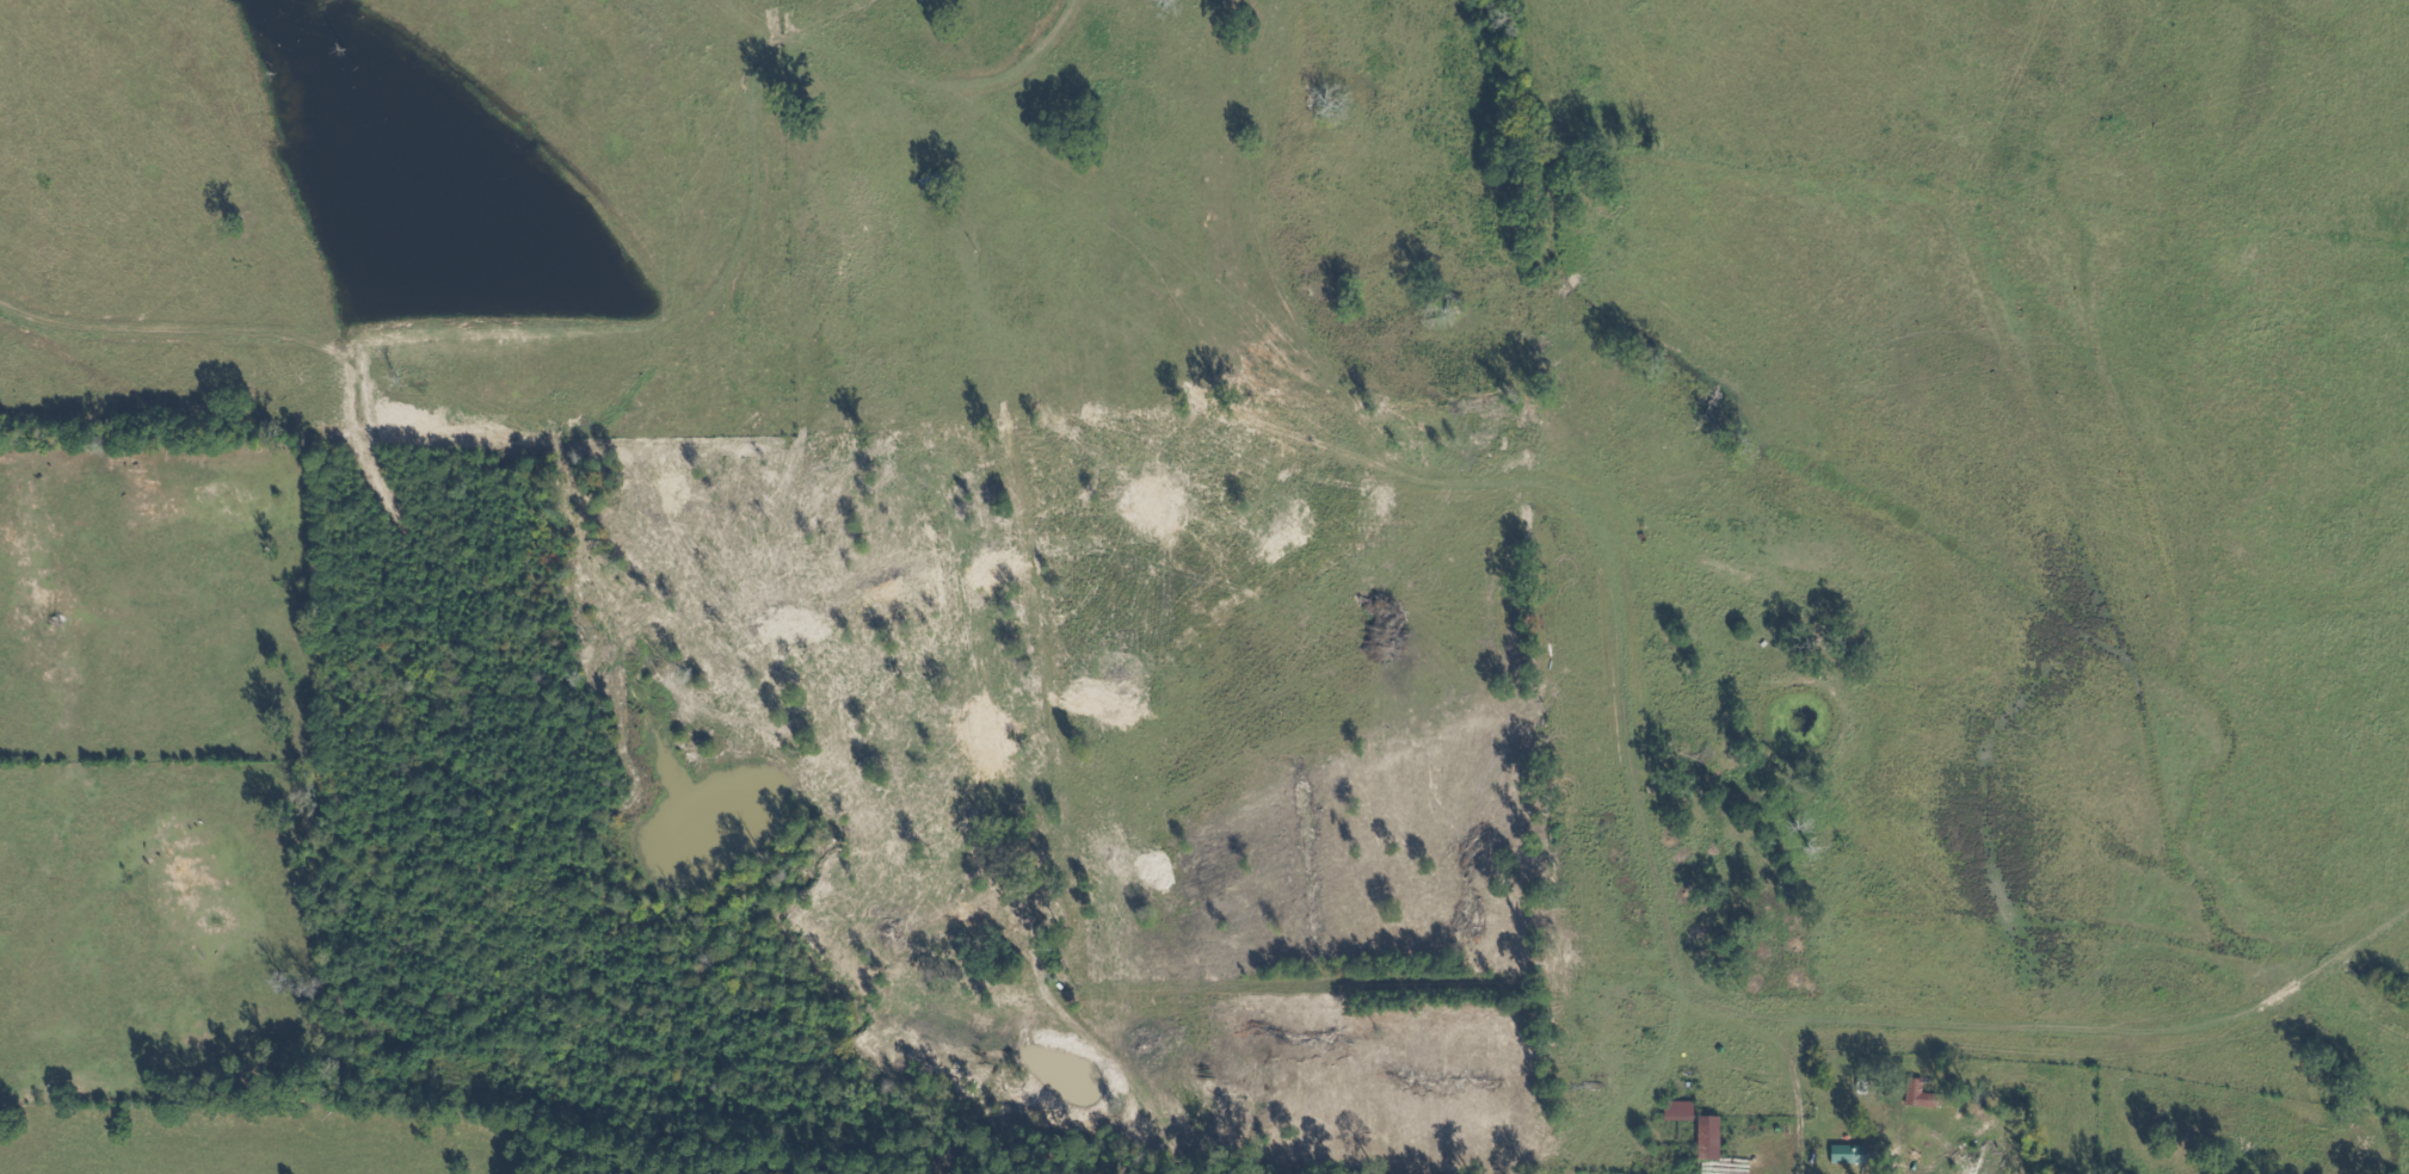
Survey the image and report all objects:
building: (929, 180)
road: (1117, 1056)
building: (1915, 1093)
building: (1675, 1108)
building: (1705, 1136)
building: (1843, 1150)

